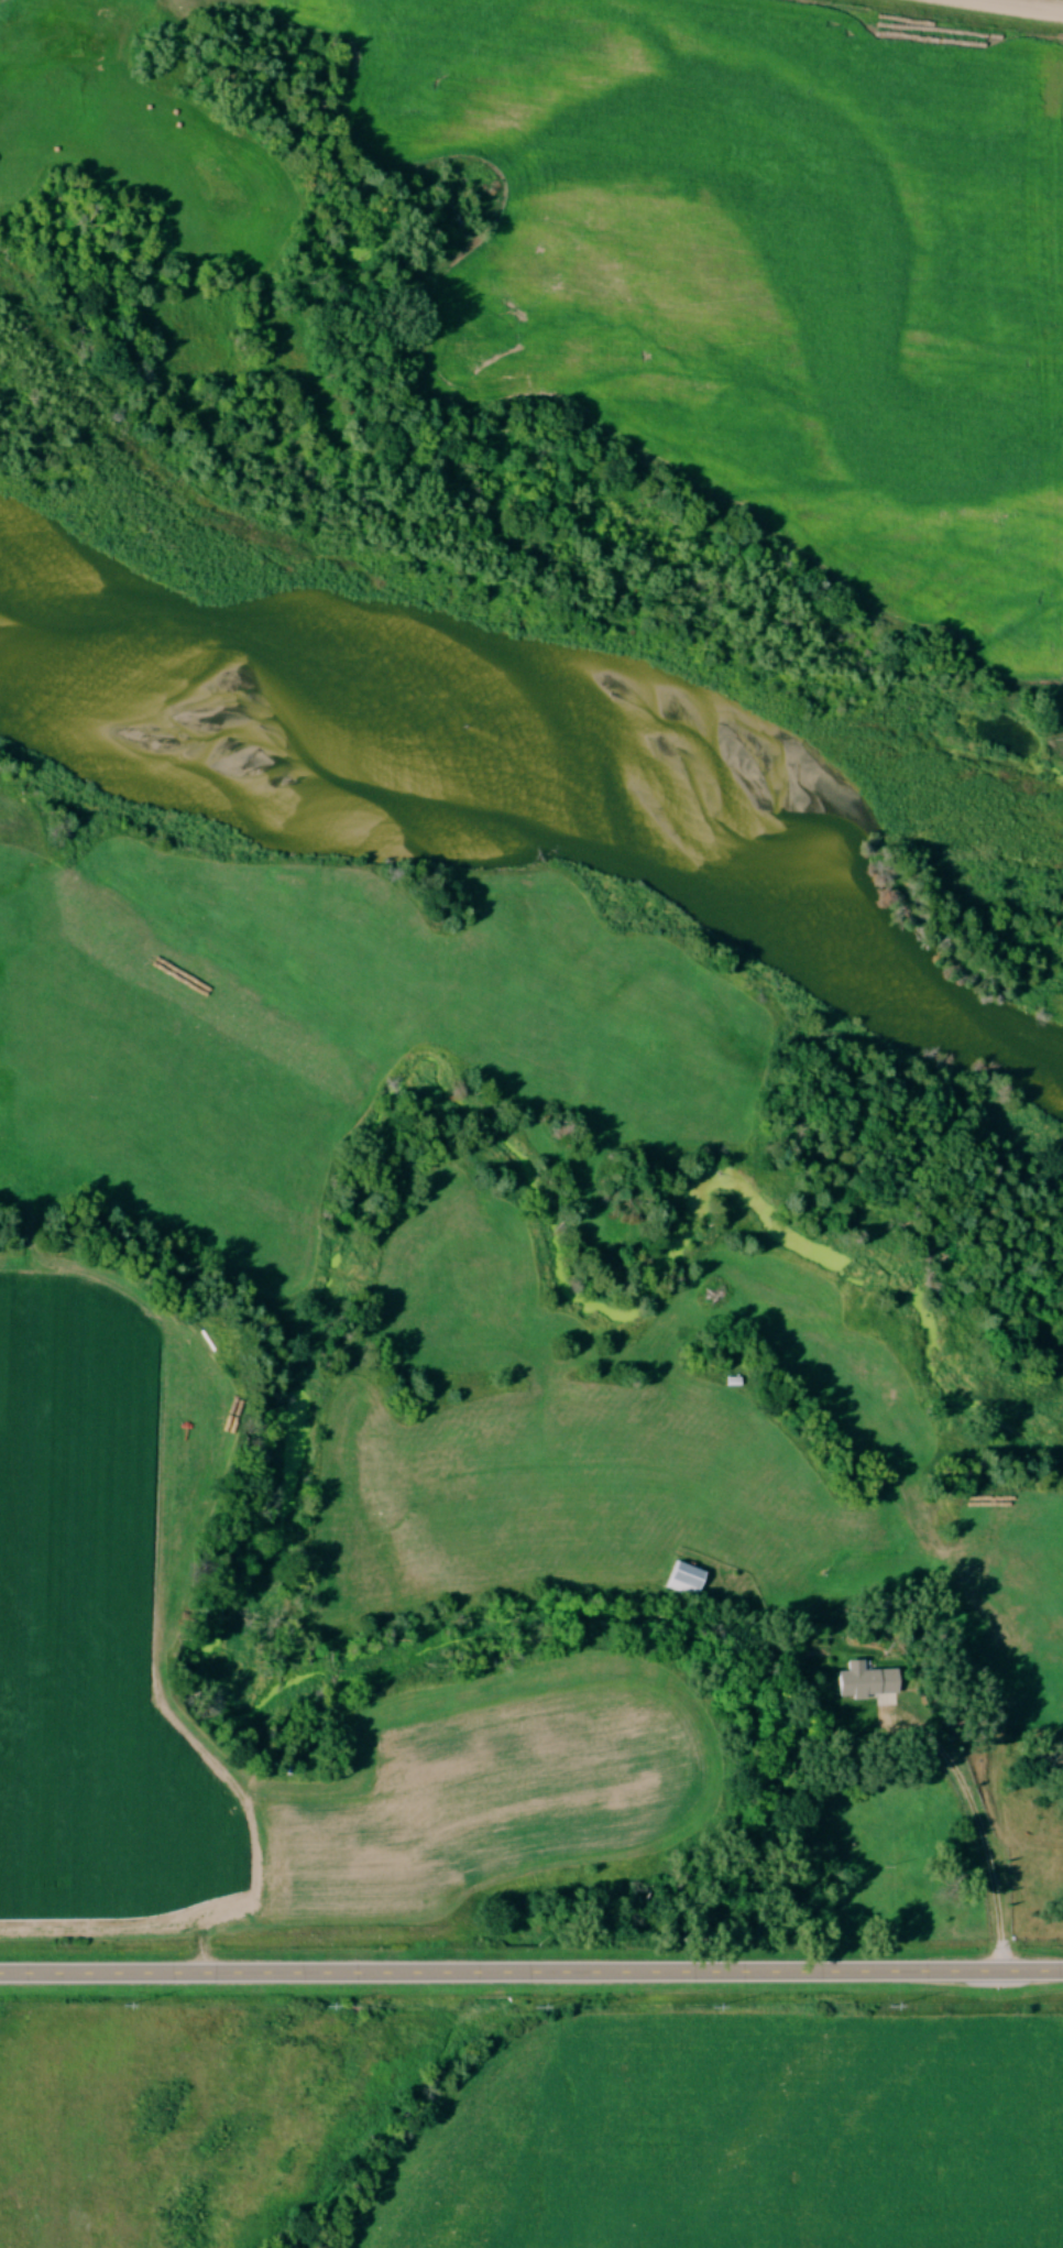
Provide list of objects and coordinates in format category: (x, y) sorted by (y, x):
road: (1022, 6)
river: (523, 807)
building: (684, 1583)
building: (866, 1683)
road: (979, 1818)
road: (530, 1969)

